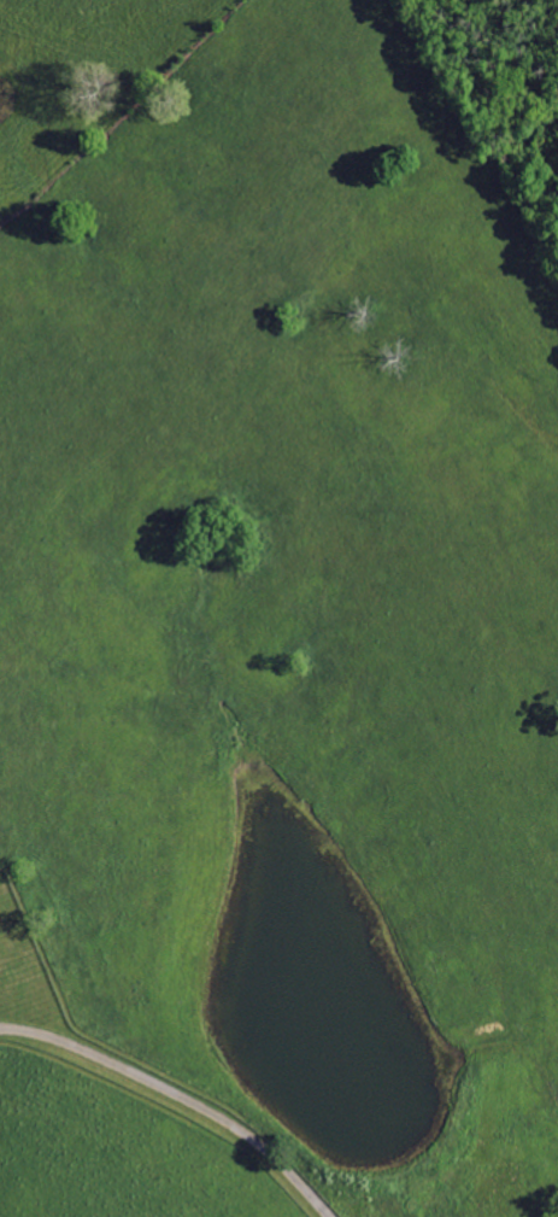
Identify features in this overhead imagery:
road: (183, 1096)

